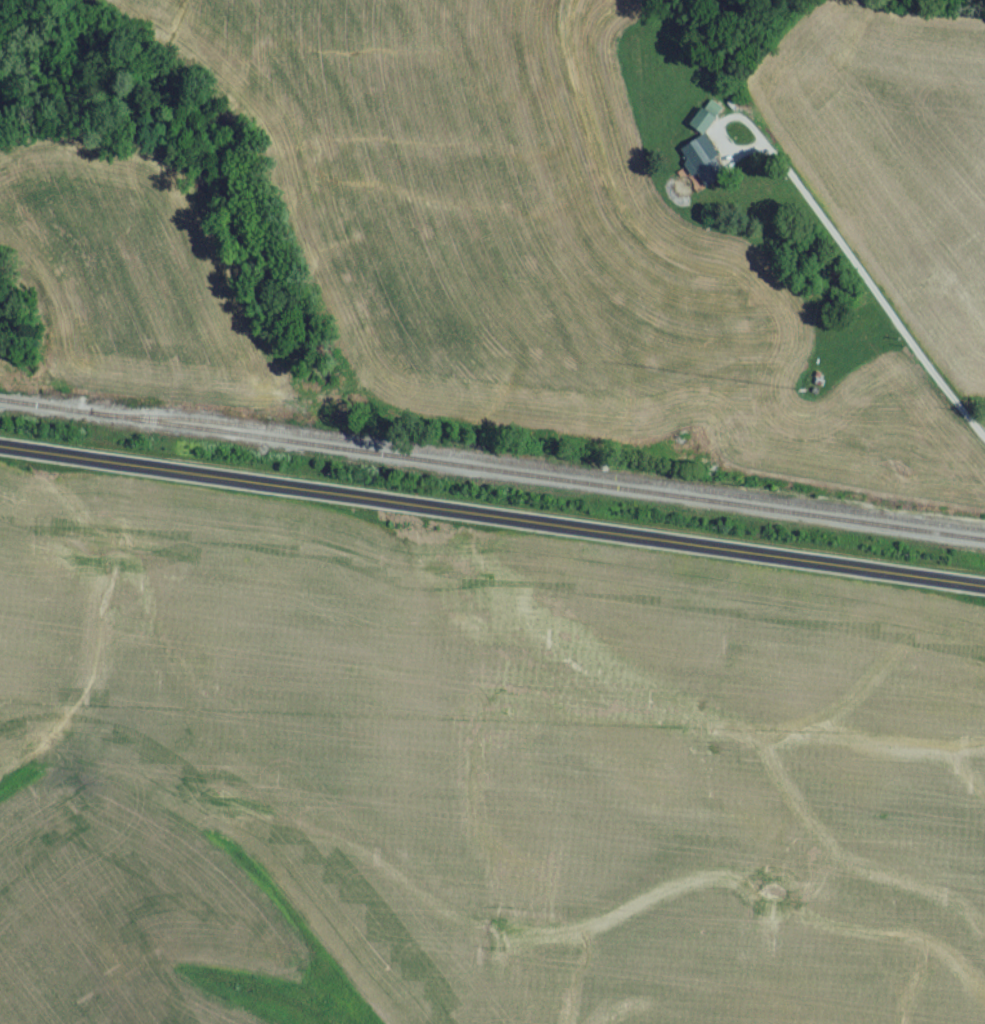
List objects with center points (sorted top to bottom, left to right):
road: (723, 128)
building: (707, 167)
road: (875, 288)
railway: (492, 474)
road: (492, 522)

